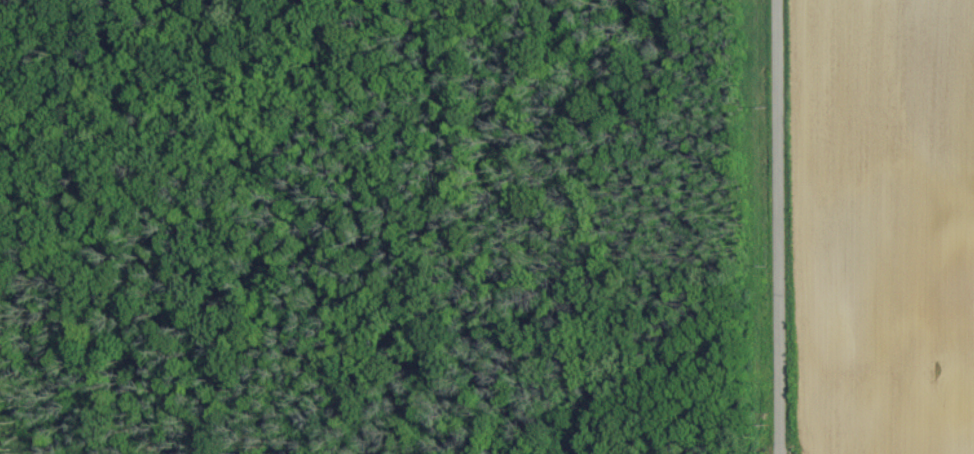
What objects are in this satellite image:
road: (782, 227)

